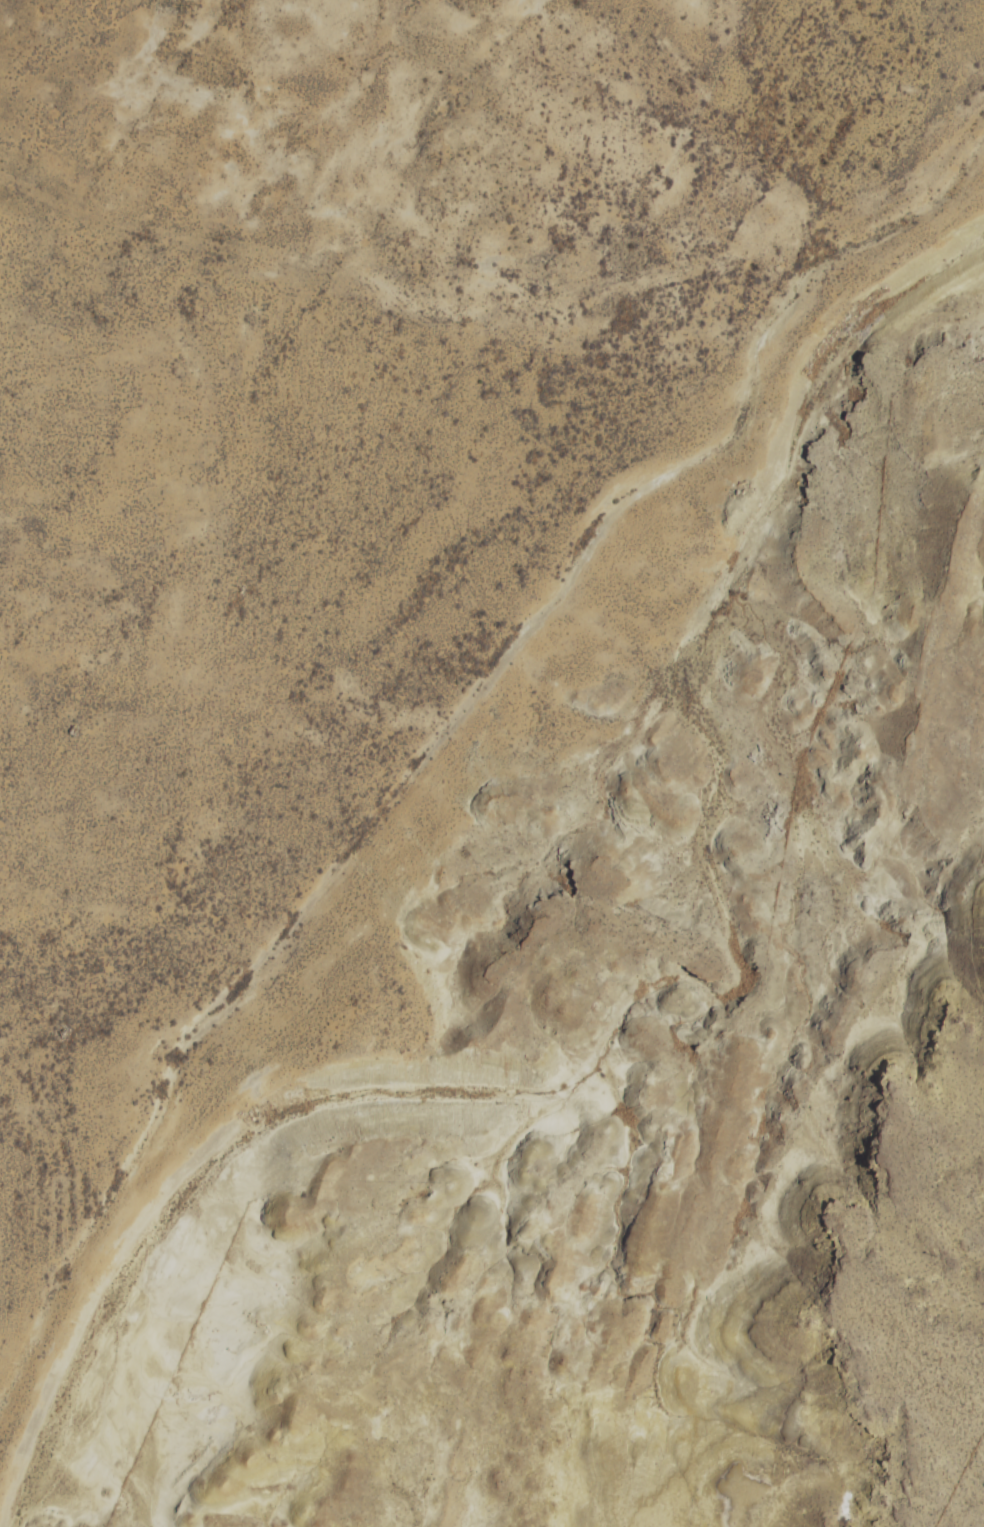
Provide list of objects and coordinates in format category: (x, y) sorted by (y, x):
quarry: (405, 666)

